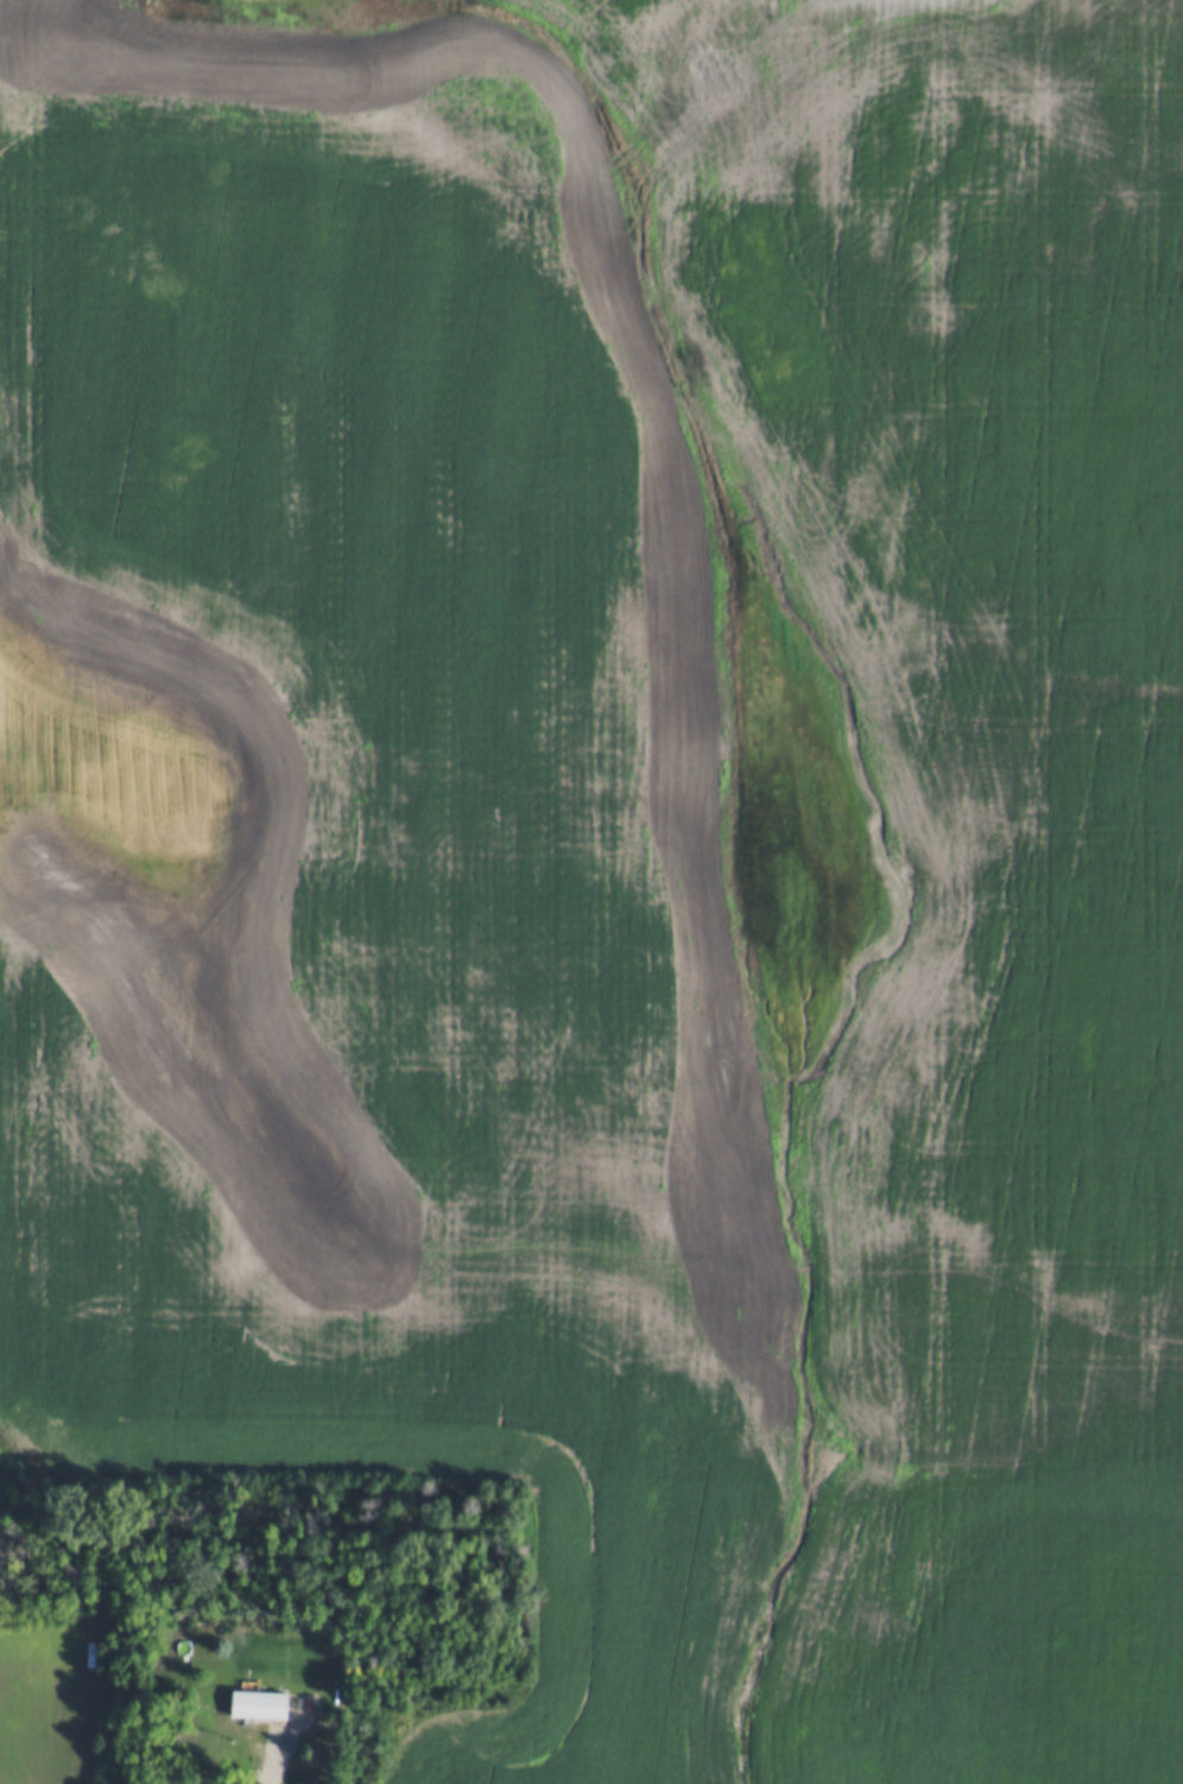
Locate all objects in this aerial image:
building: (277, 1704)
road: (260, 1774)

